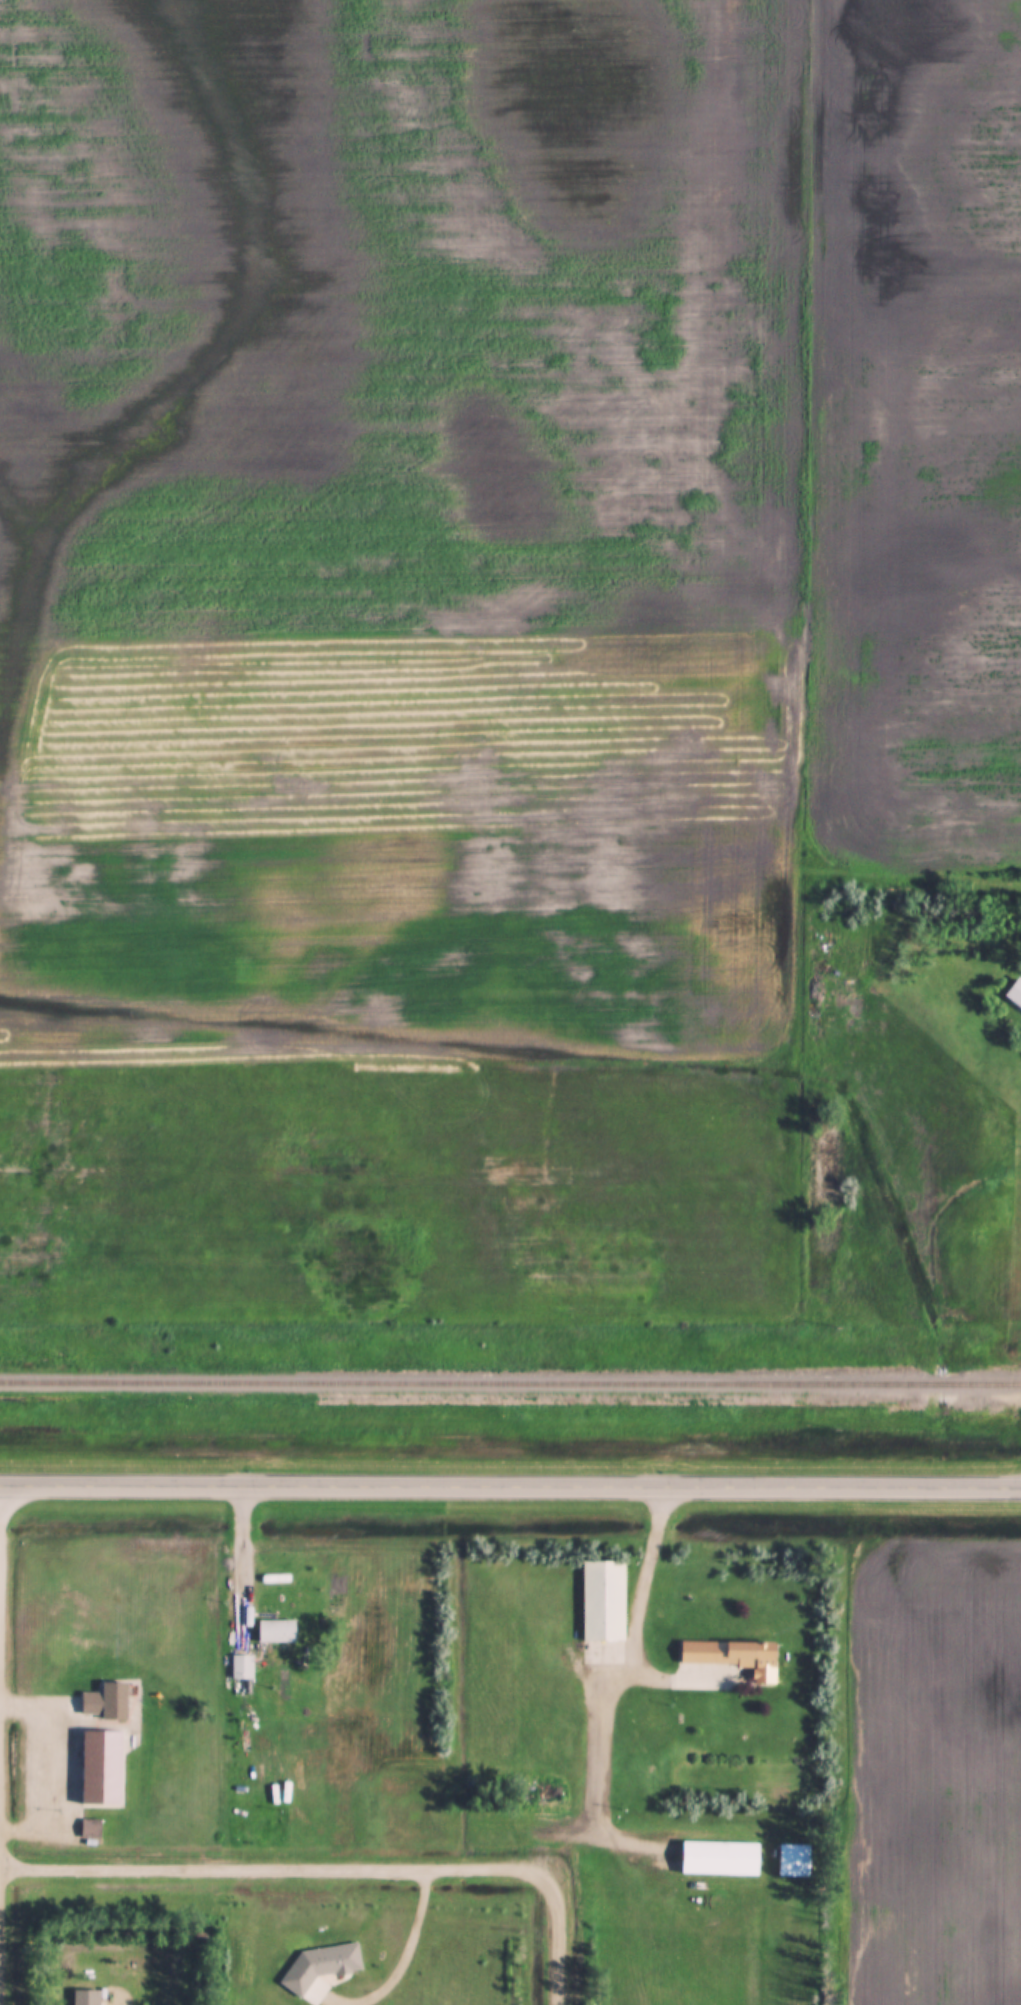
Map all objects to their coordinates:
crop: (908, 436)
crop: (397, 661)
building: (1015, 993)
railway: (460, 1384)
railway: (941, 1386)
railway: (991, 1386)
road: (510, 1484)
road: (0, 1524)
road: (245, 1555)
building: (603, 1611)
building: (276, 1631)
building: (250, 1632)
building: (734, 1657)
building: (242, 1666)
building: (105, 1703)
road: (599, 1747)
building: (93, 1769)
crop: (931, 1773)
building: (90, 1830)
road: (568, 1851)
building: (721, 1859)
building: (794, 1861)
road: (272, 1873)
road: (550, 1940)
building: (321, 1967)
building: (86, 1998)

